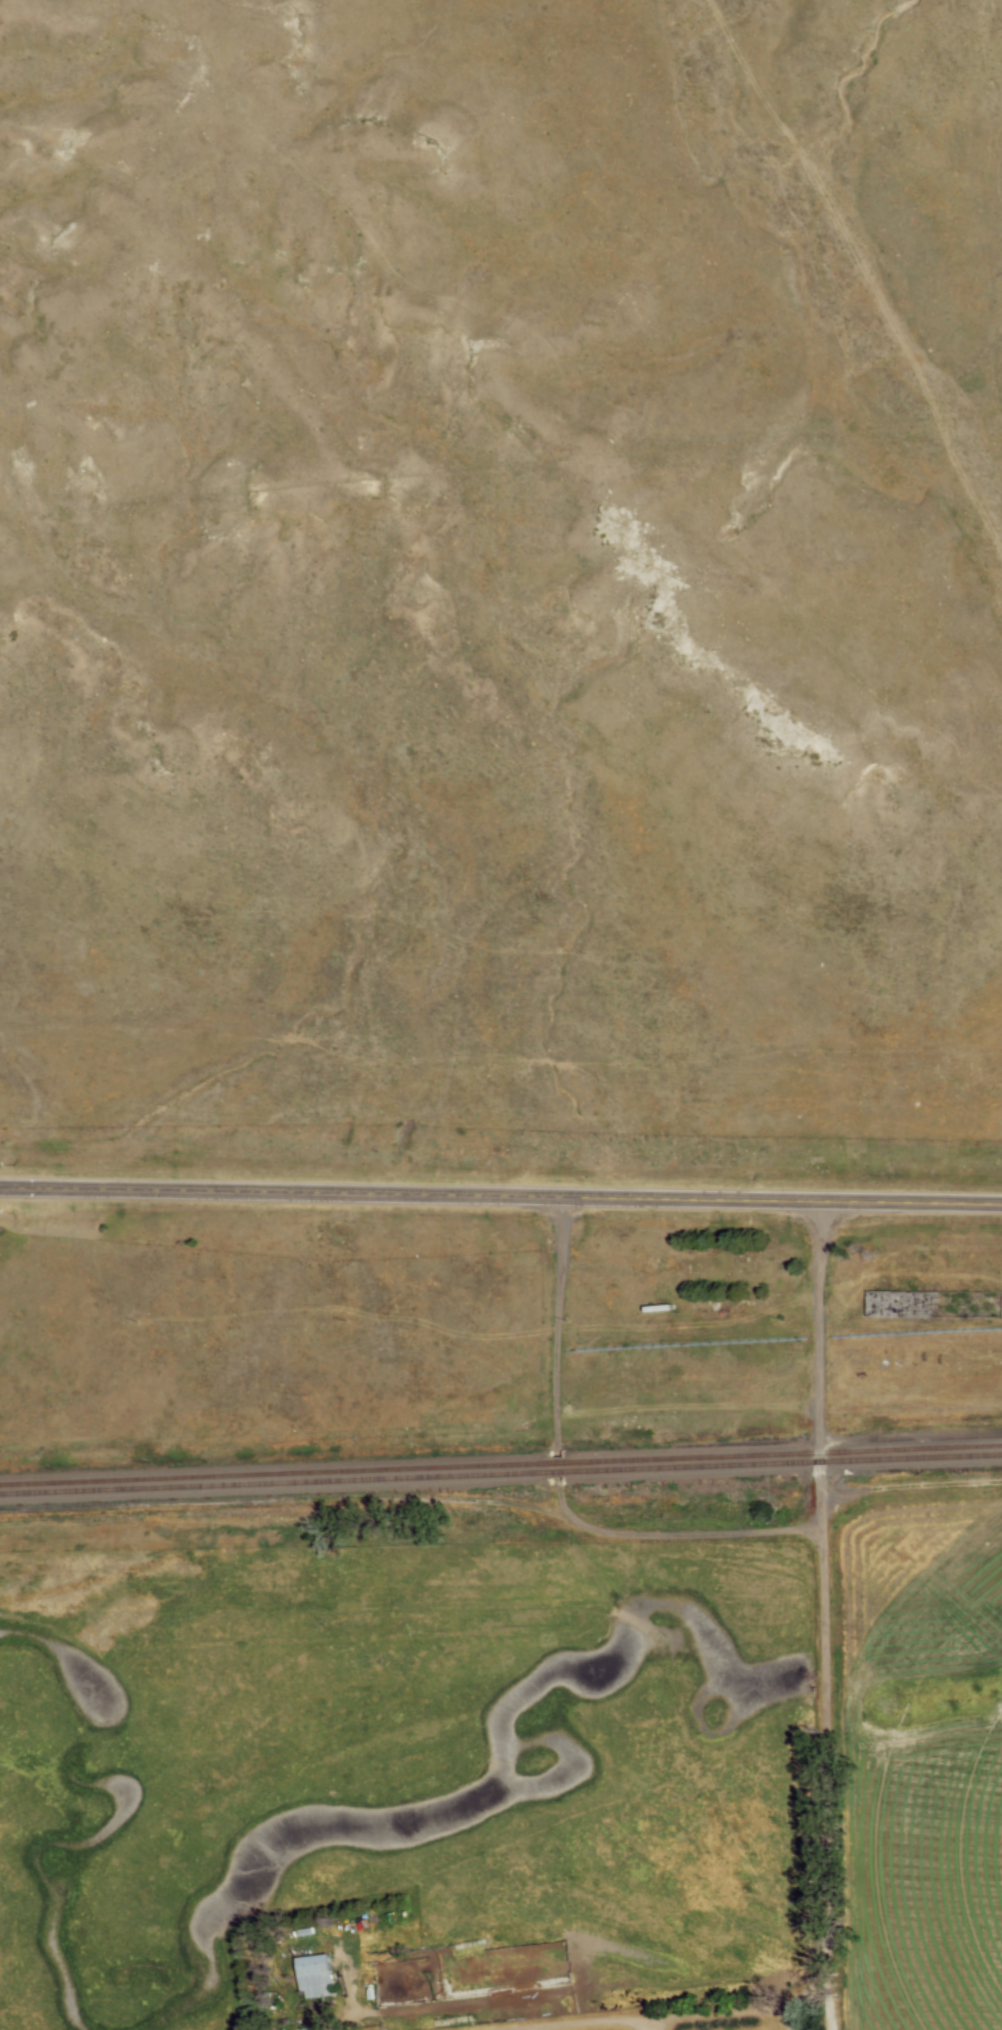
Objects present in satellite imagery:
road: (500, 1193)
building: (979, 1296)
road: (820, 1371)
railway: (786, 1452)
railway: (559, 1461)
railway: (786, 1461)
railway: (558, 1470)
railway: (273, 1471)
railway: (273, 1481)
road: (558, 1485)
road: (908, 1485)
crop: (922, 1762)
road: (826, 1770)
building: (316, 1976)
road: (681, 2014)
road: (786, 2021)
road: (641, 2024)

